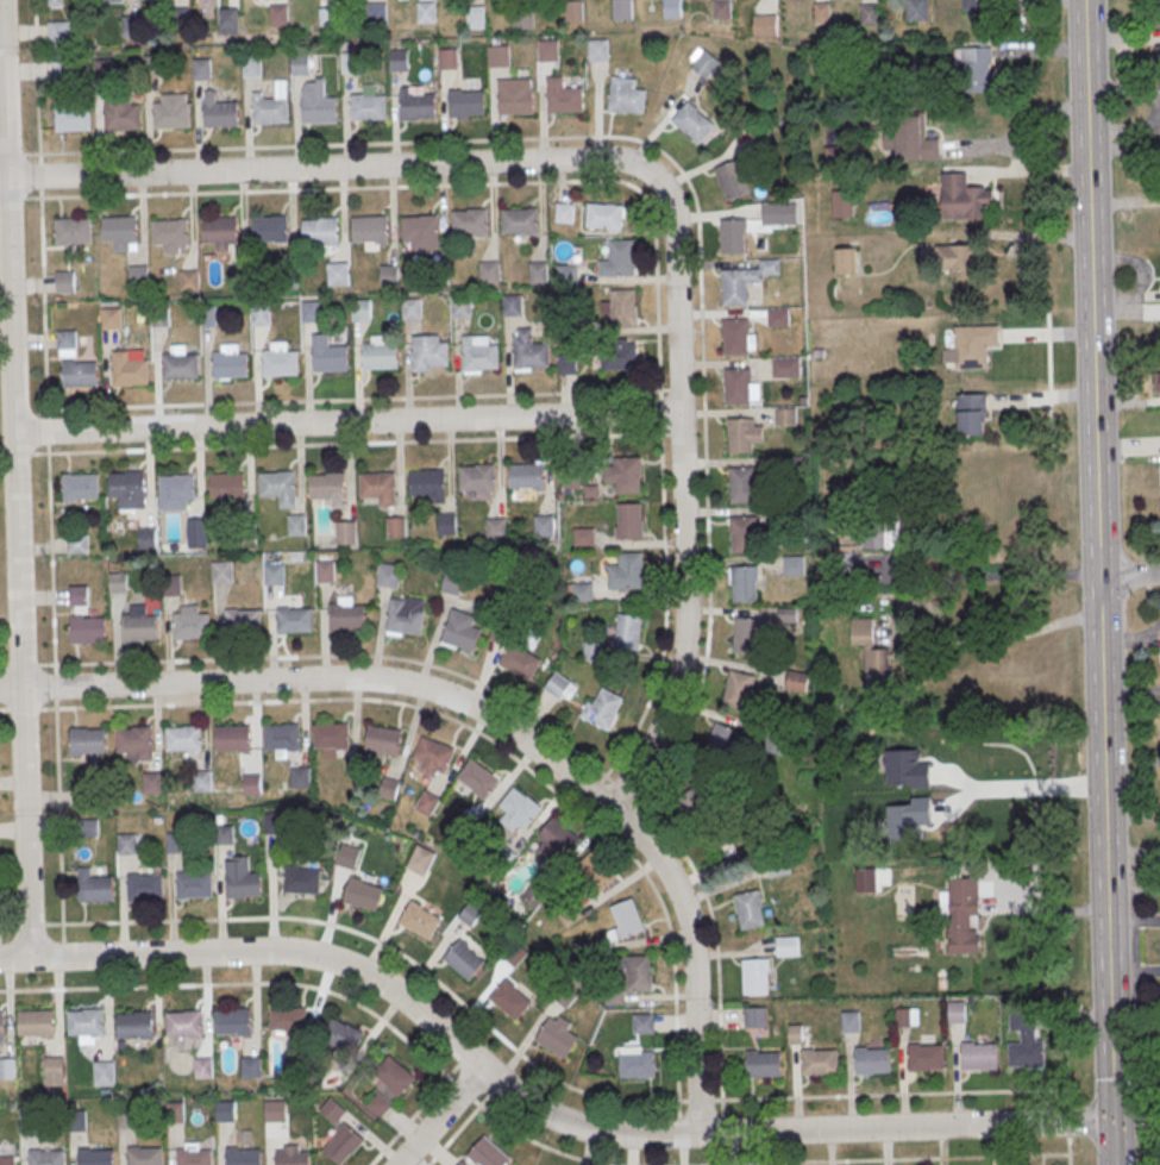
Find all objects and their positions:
building: (117, 0)
building: (55, 1)
building: (970, 5)
building: (1007, 5)
building: (622, 10)
building: (672, 10)
building: (915, 10)
building: (722, 11)
building: (377, 12)
building: (426, 13)
building: (575, 13)
building: (822, 14)
building: (870, 15)
building: (476, 18)
building: (228, 20)
building: (521, 20)
building: (130, 25)
building: (763, 26)
building: (58, 31)
building: (597, 51)
building: (548, 52)
building: (497, 57)
building: (399, 59)
building: (447, 59)
building: (300, 63)
building: (349, 63)
building: (1155, 63)
building: (704, 64)
building: (974, 69)
building: (626, 95)
building: (515, 99)
building: (564, 99)
building: (466, 106)
building: (368, 108)
building: (418, 108)
building: (319, 112)
building: (269, 113)
building: (171, 114)
building: (71, 115)
building: (121, 115)
building: (220, 115)
building: (692, 121)
building: (910, 137)
road: (535, 138)
road: (1015, 144)
road: (12, 154)
road: (31, 154)
road: (326, 168)
building: (732, 180)
road: (213, 192)
building: (964, 199)
building: (841, 202)
building: (564, 212)
building: (778, 214)
building: (604, 217)
building: (520, 221)
road: (1045, 223)
building: (470, 224)
building: (71, 230)
building: (370, 230)
building: (420, 230)
building: (270, 231)
building: (120, 232)
building: (220, 232)
building: (321, 232)
building: (170, 233)
building: (733, 238)
building: (958, 257)
building: (621, 259)
building: (842, 259)
building: (488, 271)
building: (538, 271)
building: (337, 274)
building: (138, 275)
building: (389, 275)
building: (238, 276)
building: (566, 276)
building: (189, 280)
building: (64, 281)
road: (1091, 288)
building: (735, 289)
building: (460, 305)
building: (512, 305)
building: (360, 308)
building: (410, 308)
building: (623, 309)
building: (311, 311)
building: (261, 313)
building: (208, 315)
building: (159, 317)
building: (111, 318)
building: (778, 320)
building: (570, 327)
building: (67, 339)
building: (736, 339)
building: (974, 347)
building: (529, 351)
building: (428, 352)
building: (478, 352)
building: (327, 353)
building: (380, 353)
building: (619, 356)
building: (280, 359)
building: (230, 362)
building: (566, 363)
building: (180, 364)
building: (130, 367)
building: (783, 369)
building: (79, 372)
building: (1158, 386)
building: (738, 388)
road: (352, 399)
building: (973, 416)
building: (785, 418)
road: (346, 421)
building: (741, 439)
building: (792, 466)
road: (661, 471)
building: (626, 475)
building: (527, 478)
road: (14, 480)
building: (478, 481)
building: (80, 486)
building: (428, 487)
building: (742, 487)
building: (130, 489)
building: (178, 489)
building: (280, 489)
building: (230, 490)
building: (328, 490)
building: (378, 490)
road: (683, 496)
building: (794, 516)
building: (446, 522)
building: (629, 524)
building: (295, 525)
building: (544, 525)
building: (395, 526)
building: (495, 527)
building: (196, 530)
building: (345, 531)
building: (884, 534)
building: (146, 537)
building: (744, 538)
building: (75, 543)
building: (794, 568)
building: (220, 571)
building: (324, 571)
building: (272, 574)
building: (631, 574)
building: (388, 575)
road: (1129, 575)
road: (989, 577)
building: (118, 581)
building: (452, 581)
building: (169, 583)
building: (745, 587)
building: (582, 588)
building: (77, 594)
building: (405, 614)
building: (347, 620)
building: (296, 624)
building: (245, 625)
building: (193, 628)
building: (459, 630)
building: (142, 631)
building: (627, 631)
building: (89, 633)
building: (748, 633)
road: (999, 637)
building: (594, 651)
building: (871, 654)
building: (518, 660)
road: (322, 677)
building: (560, 687)
building: (738, 690)
road: (1131, 693)
road: (369, 699)
building: (602, 708)
building: (332, 738)
building: (383, 738)
building: (283, 739)
building: (234, 740)
building: (184, 741)
building: (136, 743)
building: (723, 743)
building: (89, 744)
building: (433, 752)
road: (1135, 773)
building: (300, 776)
building: (476, 777)
building: (201, 779)
building: (152, 781)
building: (251, 783)
road: (1037, 787)
building: (391, 788)
building: (520, 806)
building: (701, 807)
building: (274, 822)
building: (87, 827)
building: (222, 834)
building: (556, 841)
building: (125, 843)
building: (173, 843)
road: (1105, 848)
building: (347, 856)
building: (420, 860)
building: (597, 870)
building: (302, 883)
building: (193, 884)
building: (242, 884)
building: (143, 885)
building: (94, 888)
building: (364, 897)
building: (750, 909)
building: (470, 916)
building: (965, 919)
road: (149, 920)
building: (626, 920)
road: (711, 920)
road: (30, 923)
building: (420, 923)
building: (789, 948)
road: (694, 956)
building: (515, 957)
building: (464, 963)
building: (639, 972)
building: (755, 976)
road: (372, 977)
road: (133, 985)
building: (566, 997)
building: (512, 1003)
building: (957, 1011)
building: (907, 1016)
building: (233, 1020)
building: (757, 1020)
building: (36, 1021)
building: (86, 1021)
building: (851, 1021)
building: (1, 1022)
building: (183, 1022)
building: (289, 1022)
building: (133, 1023)
building: (644, 1026)
building: (557, 1039)
building: (343, 1042)
building: (1024, 1042)
road: (414, 1048)
building: (979, 1059)
building: (926, 1060)
building: (872, 1064)
building: (295, 1065)
building: (820, 1065)
building: (55, 1066)
building: (251, 1066)
building: (763, 1066)
building: (202, 1067)
building: (638, 1067)
building: (7, 1072)
building: (104, 1072)
building: (316, 1077)
building: (395, 1078)
road: (1068, 1085)
road: (760, 1101)
building: (381, 1103)
building: (332, 1109)
building: (226, 1114)
building: (276, 1114)
building: (27, 1115)
building: (175, 1115)
building: (124, 1116)
road: (440, 1116)
building: (75, 1120)
road: (408, 1120)
traffic signals: (1112, 1122)
road: (905, 1127)
building: (343, 1144)
road: (535, 1144)
road: (1112, 1144)
building: (144, 1155)
building: (242, 1155)
building: (291, 1155)
building: (488, 1155)
building: (46, 1157)
building: (95, 1157)
building: (194, 1157)
building: (7, 1160)
road: (918, 1160)
building: (460, 1163)

